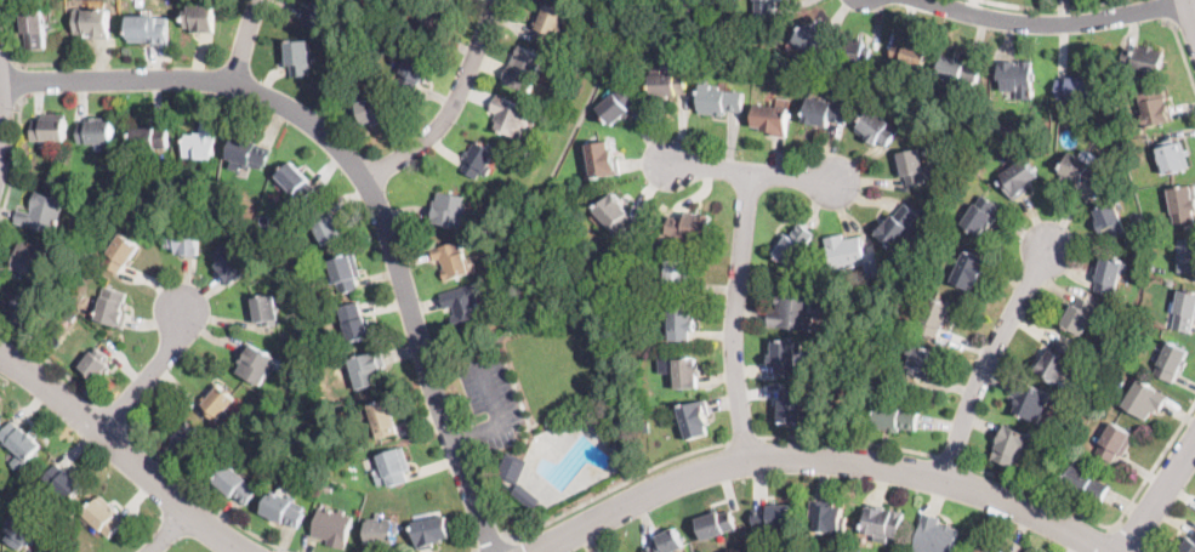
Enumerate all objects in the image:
building: (764, 7)
road: (1052, 8)
road: (1168, 8)
building: (315, 12)
road: (1190, 12)
building: (200, 17)
building: (429, 22)
road: (1048, 22)
building: (92, 23)
building: (550, 24)
building: (34, 27)
building: (148, 29)
road: (8, 33)
building: (810, 39)
road: (245, 41)
building: (381, 45)
road: (1180, 49)
building: (854, 52)
building: (909, 55)
building: (298, 58)
building: (1144, 58)
road: (42, 62)
building: (815, 67)
building: (525, 68)
building: (958, 70)
building: (412, 72)
building: (1017, 76)
road: (21, 81)
building: (667, 85)
building: (1074, 90)
building: (719, 101)
road: (453, 106)
building: (1155, 106)
building: (616, 107)
building: (372, 110)
building: (824, 112)
building: (513, 116)
building: (772, 118)
building: (49, 129)
building: (876, 129)
building: (96, 133)
building: (148, 138)
building: (201, 141)
building: (247, 153)
building: (1173, 158)
building: (478, 160)
building: (603, 160)
road: (15, 161)
building: (914, 166)
building: (1081, 171)
road: (365, 176)
road: (753, 176)
building: (1018, 178)
building: (295, 182)
building: (1183, 204)
building: (449, 211)
building: (42, 214)
building: (615, 215)
building: (980, 215)
building: (1110, 221)
building: (328, 226)
building: (899, 226)
building: (690, 227)
building: (183, 240)
building: (793, 243)
building: (844, 251)
building: (121, 254)
building: (1187, 256)
building: (32, 258)
building: (449, 261)
building: (231, 263)
building: (874, 267)
building: (971, 269)
building: (345, 273)
building: (677, 274)
building: (1109, 275)
building: (1168, 281)
building: (870, 289)
building: (463, 305)
building: (112, 307)
building: (17, 309)
building: (266, 309)
building: (795, 311)
building: (1184, 312)
road: (735, 315)
building: (1081, 315)
building: (881, 318)
building: (934, 318)
building: (354, 320)
building: (681, 324)
building: (878, 334)
building: (784, 357)
road: (989, 359)
park: (575, 360)
building: (921, 362)
building: (1172, 362)
building: (1055, 363)
building: (96, 364)
building: (256, 364)
building: (666, 364)
road: (57, 369)
building: (368, 369)
park: (540, 372)
building: (685, 372)
road: (150, 377)
building: (1145, 399)
building: (1030, 400)
building: (217, 402)
building: (791, 405)
road: (115, 412)
building: (894, 417)
building: (382, 419)
building: (605, 419)
road: (501, 420)
building: (695, 420)
building: (216, 428)
building: (188, 437)
road: (741, 438)
road: (848, 442)
building: (1114, 443)
building: (19, 444)
building: (1009, 446)
road: (121, 451)
road: (820, 457)
road: (952, 460)
building: (511, 467)
building: (392, 468)
building: (64, 483)
building: (1085, 483)
building: (235, 484)
building: (328, 486)
road: (611, 489)
road: (198, 493)
building: (525, 496)
road: (1159, 497)
building: (283, 507)
building: (103, 516)
building: (827, 517)
building: (773, 518)
building: (882, 523)
building: (716, 525)
road: (1108, 527)
building: (332, 528)
building: (22, 529)
road: (170, 531)
building: (381, 533)
building: (429, 533)
building: (935, 536)
road: (1131, 540)
building: (665, 542)
building: (1187, 544)
road: (494, 545)
road: (1150, 546)
road: (476, 550)
building: (988, 550)

